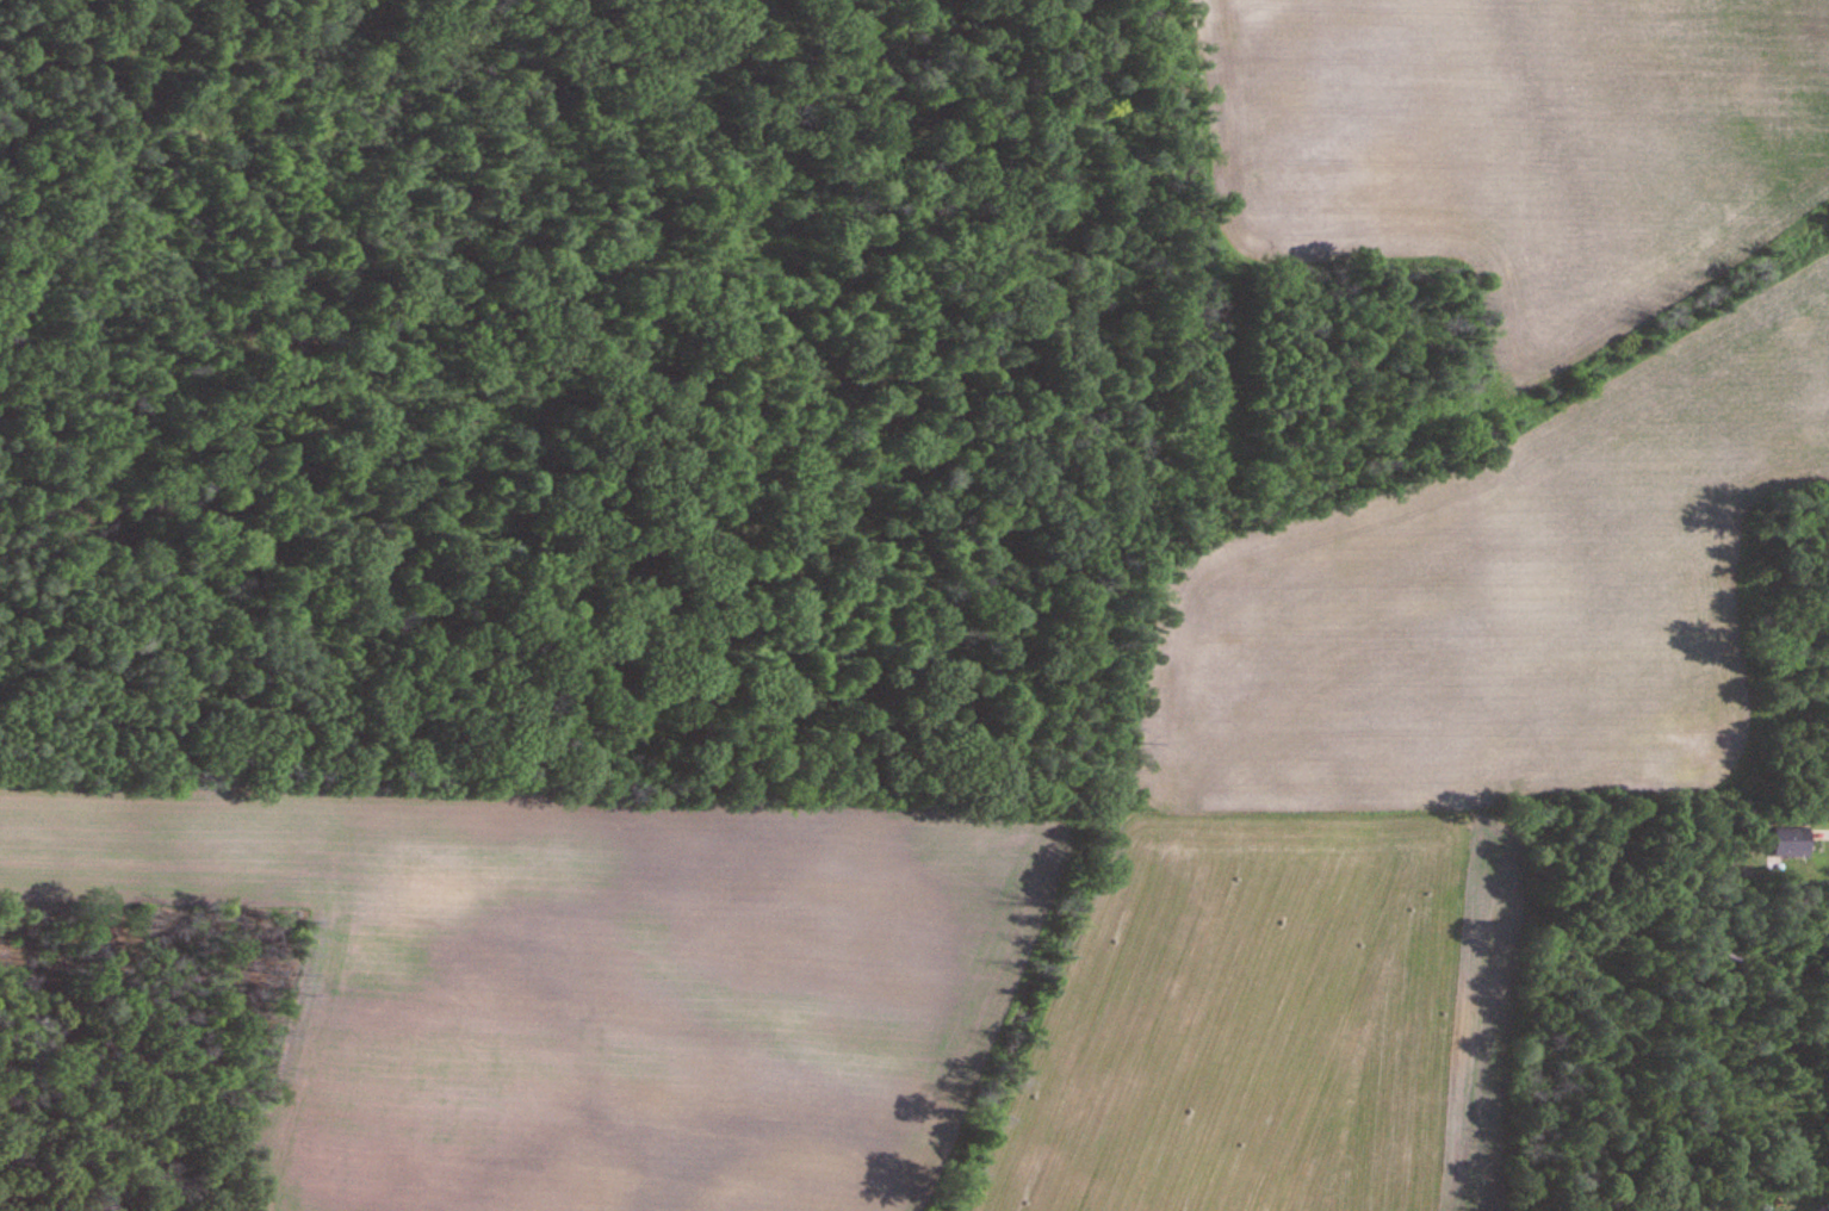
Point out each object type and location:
building: (1791, 846)

